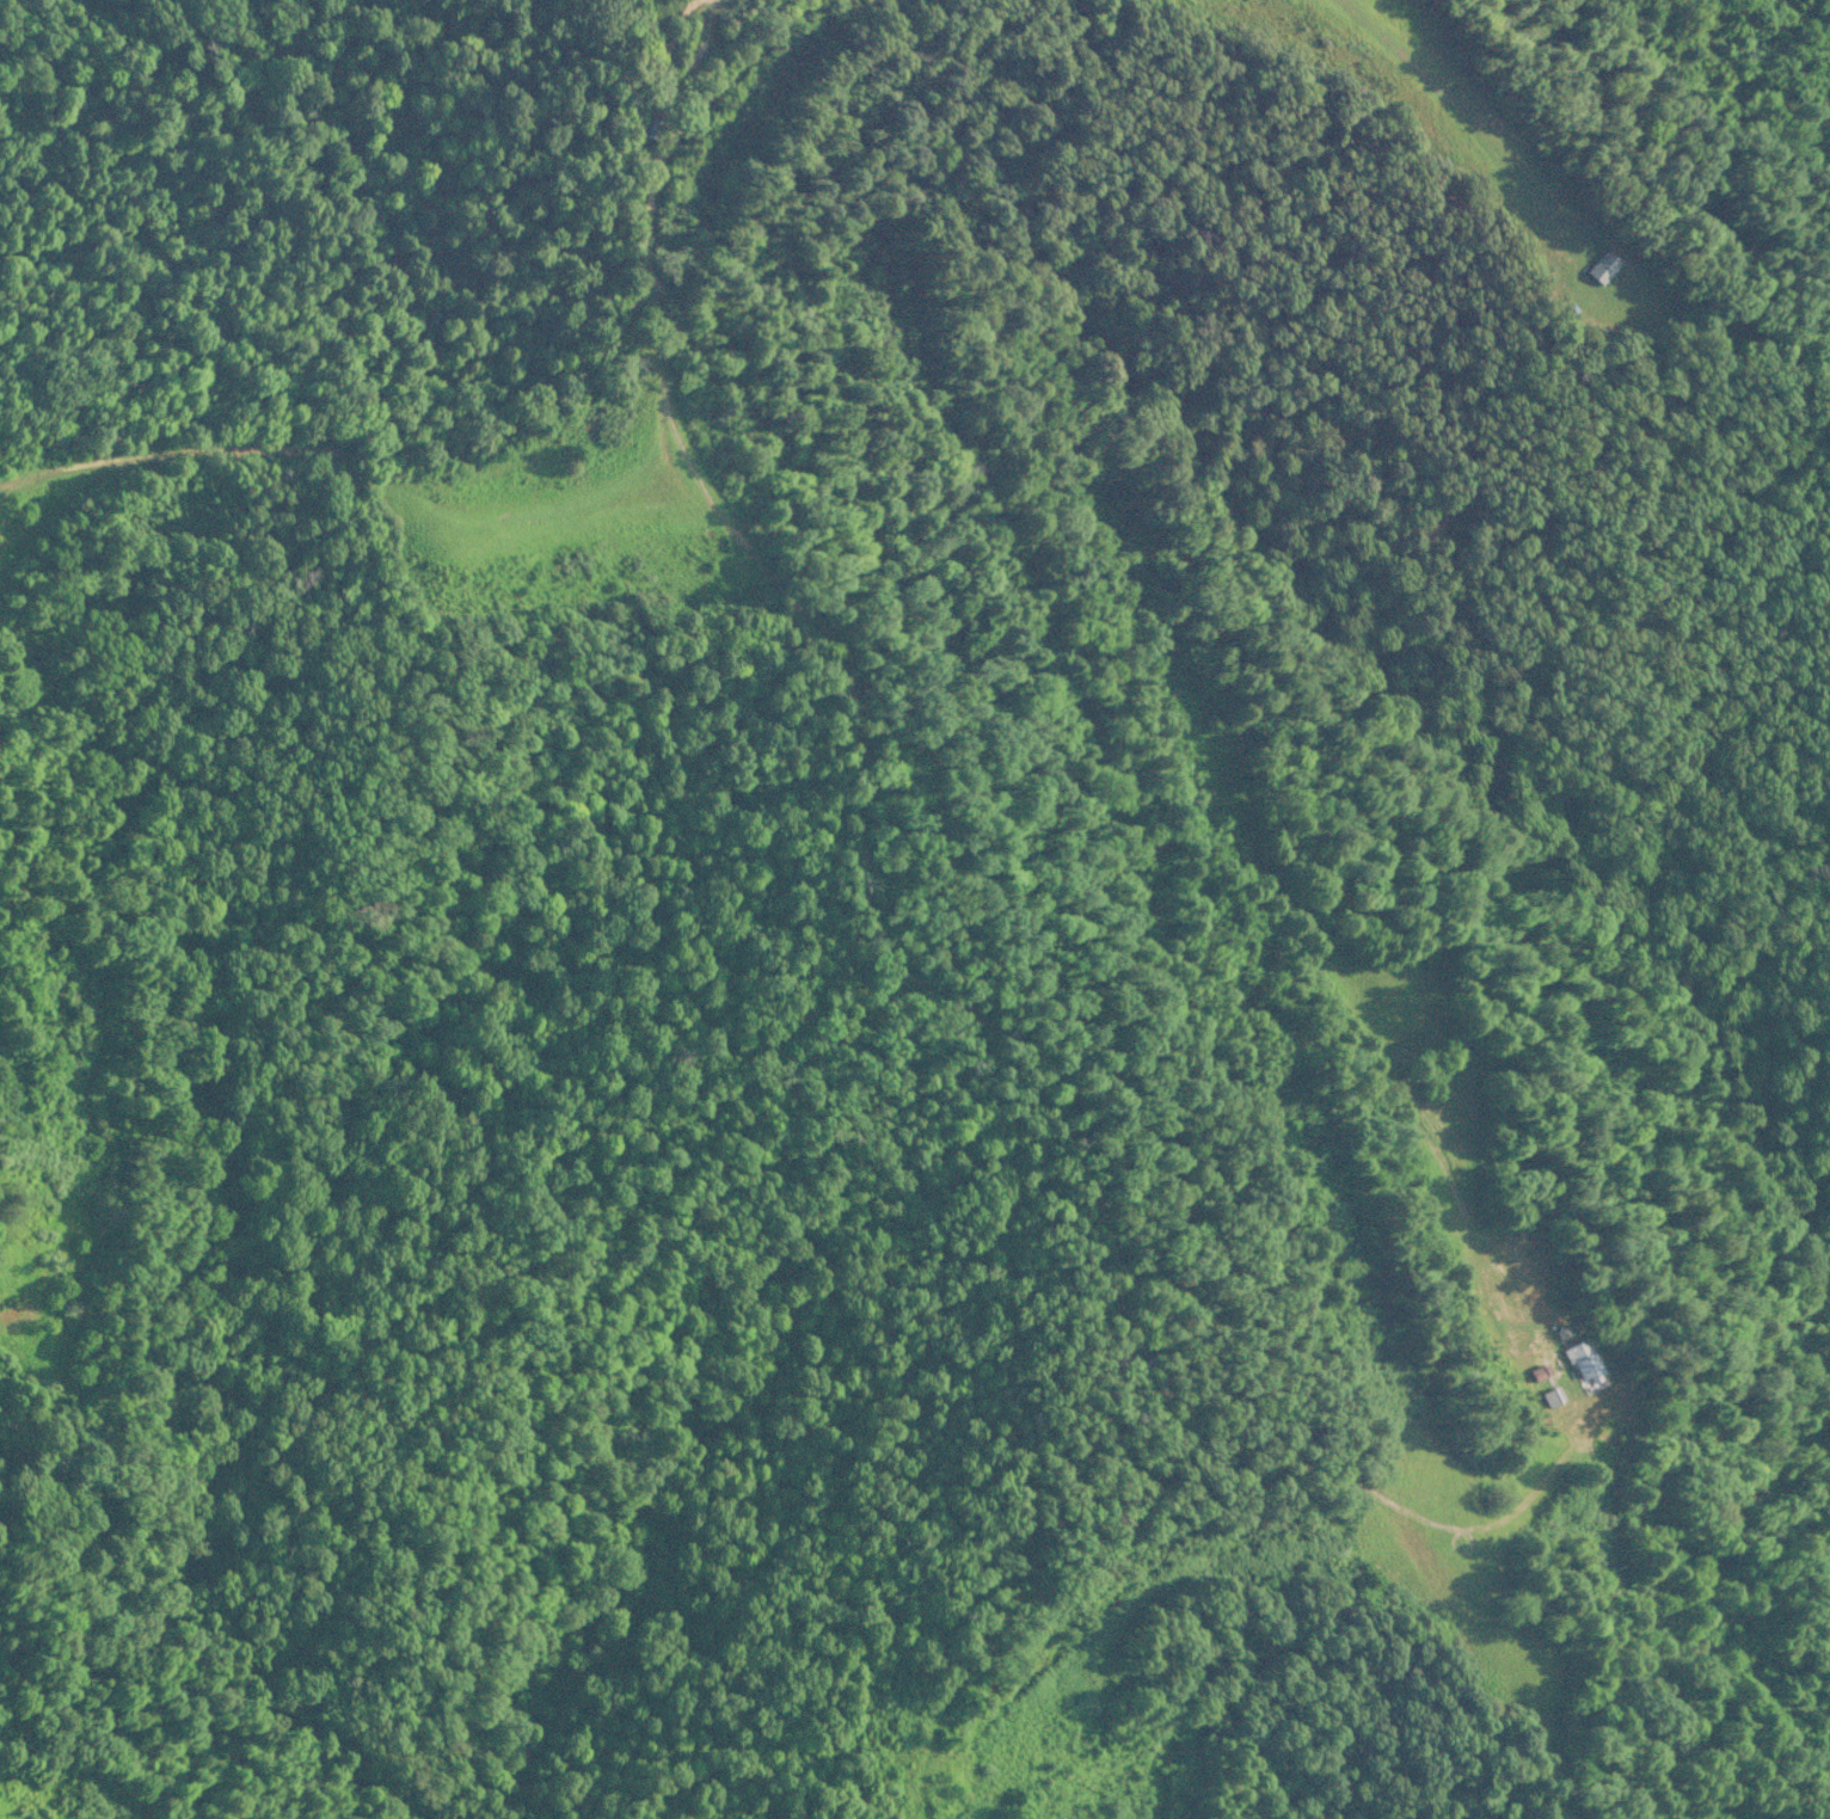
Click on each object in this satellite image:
road: (848, 21)
building: (1605, 269)
building: (1590, 1376)

